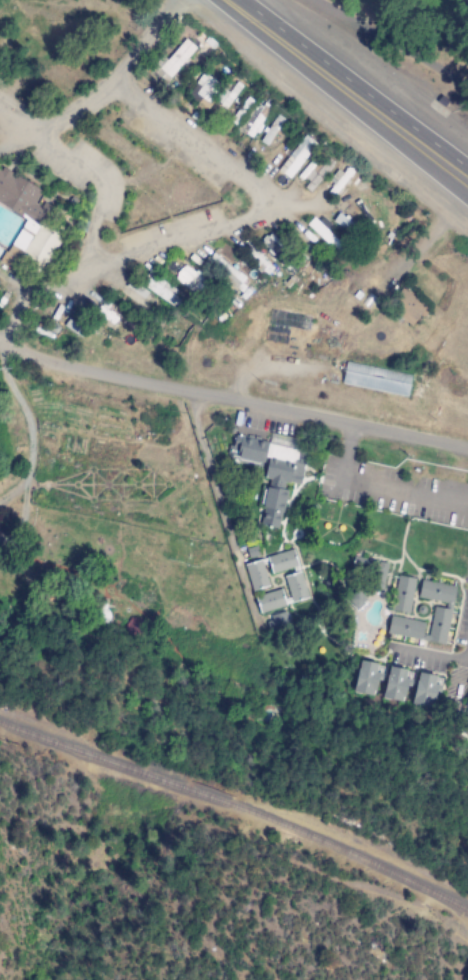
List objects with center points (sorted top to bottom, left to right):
river: (467, 0)
road: (391, 42)
building: (172, 61)
road: (352, 88)
building: (211, 92)
road: (16, 117)
building: (253, 121)
road: (45, 125)
building: (270, 130)
road: (15, 138)
road: (192, 144)
building: (295, 157)
building: (313, 174)
building: (337, 181)
building: (341, 222)
building: (25, 224)
building: (323, 235)
building: (271, 244)
road: (145, 248)
building: (223, 271)
building: (188, 279)
road: (14, 286)
building: (136, 289)
building: (161, 291)
building: (406, 308)
building: (396, 385)
road: (232, 400)
building: (272, 469)
road: (403, 488)
building: (281, 561)
building: (370, 571)
building: (255, 575)
building: (294, 587)
building: (402, 595)
building: (355, 599)
building: (269, 601)
building: (440, 612)
building: (278, 622)
road: (432, 663)
building: (365, 679)
building: (394, 685)
building: (424, 690)
building: (465, 717)
railway: (237, 802)

